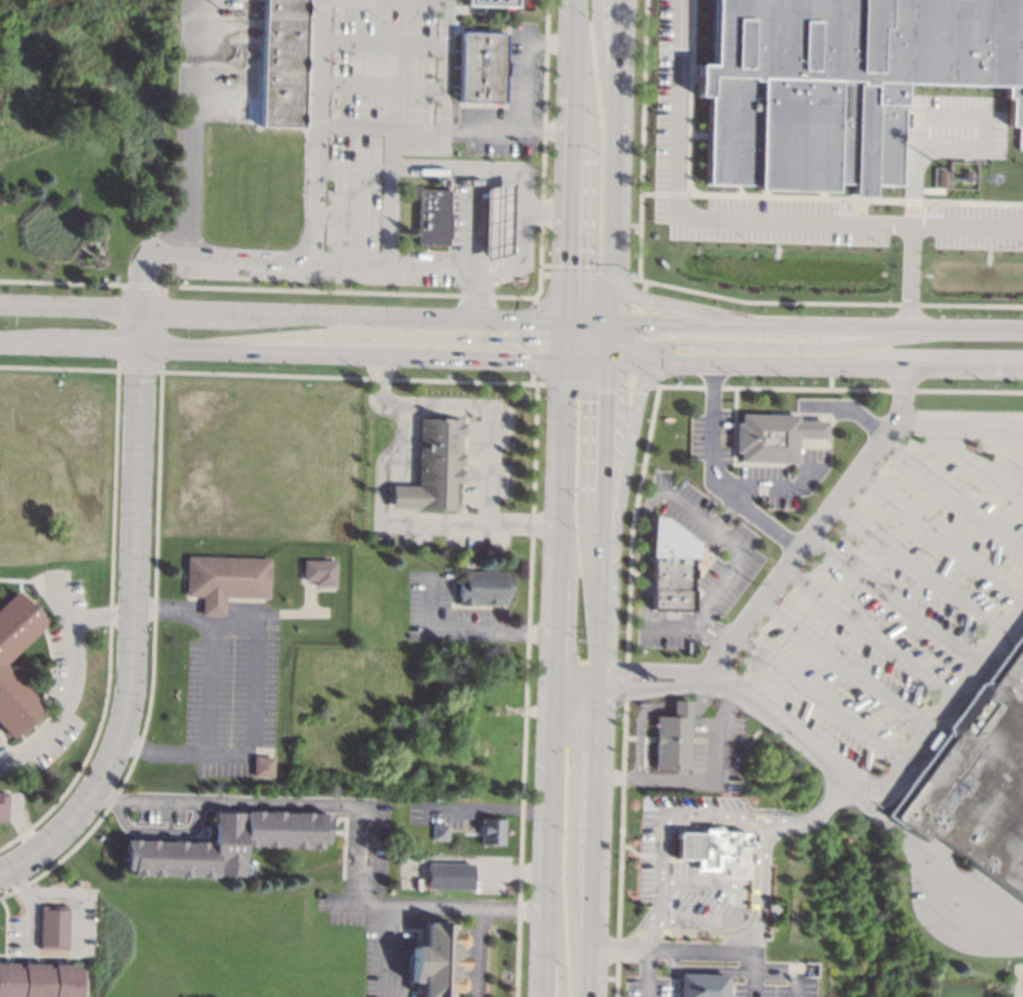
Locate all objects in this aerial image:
building: (491, 2)
road: (576, 42)
road: (382, 43)
road: (551, 43)
building: (282, 63)
road: (445, 66)
building: (481, 66)
building: (839, 82)
road: (381, 86)
road: (524, 88)
parking lot: (668, 96)
road: (572, 114)
road: (987, 116)
road: (190, 127)
parking lot: (955, 127)
road: (316, 129)
road: (444, 133)
road: (696, 134)
road: (618, 138)
road: (640, 138)
parking lot: (360, 150)
road: (353, 169)
road: (519, 172)
building: (942, 177)
road: (663, 192)
road: (388, 195)
road: (759, 195)
road: (544, 210)
road: (351, 214)
building: (432, 217)
road: (473, 218)
road: (740, 219)
building: (496, 221)
road: (568, 233)
road: (909, 237)
road: (312, 257)
traffic signals: (567, 266)
building: (116, 277)
road: (663, 283)
road: (611, 299)
road: (71, 305)
road: (684, 307)
road: (187, 308)
road: (398, 315)
road: (587, 321)
traffic signals: (646, 322)
road: (816, 325)
road: (564, 330)
road: (637, 332)
road: (378, 333)
road: (609, 333)
road: (589, 335)
traffic signals: (506, 338)
road: (96, 345)
traffic signals: (676, 345)
road: (759, 345)
road: (584, 348)
road: (1002, 348)
road: (563, 350)
road: (607, 352)
road: (377, 354)
traffic signals: (523, 360)
road: (585, 361)
road: (630, 361)
road: (838, 365)
traffic signals: (606, 391)
road: (412, 407)
road: (960, 426)
building: (770, 437)
road: (824, 454)
road: (974, 460)
road: (390, 463)
building: (433, 467)
road: (1007, 473)
road: (711, 479)
parking lot: (474, 489)
road: (953, 495)
road: (614, 516)
road: (726, 516)
road: (602, 518)
road: (487, 520)
road: (522, 528)
road: (819, 528)
road: (941, 536)
road: (735, 564)
building: (670, 567)
road: (918, 570)
building: (319, 573)
building: (225, 580)
building: (483, 587)
parking lot: (898, 591)
road: (893, 603)
road: (175, 609)
road: (134, 616)
parking lot: (451, 617)
road: (467, 628)
road: (714, 629)
road: (868, 635)
road: (709, 637)
road: (845, 667)
road: (638, 670)
road: (251, 673)
road: (576, 676)
road: (71, 678)
road: (553, 679)
building: (10, 686)
road: (639, 687)
parking lot: (233, 697)
road: (819, 700)
building: (671, 737)
building: (261, 765)
road: (702, 778)
building: (977, 779)
road: (874, 798)
road: (261, 805)
building: (3, 807)
road: (489, 812)
road: (814, 819)
building: (492, 831)
building: (439, 832)
road: (594, 837)
building: (225, 843)
building: (709, 846)
road: (943, 866)
building: (449, 875)
road: (763, 889)
road: (80, 898)
parking lot: (962, 901)
road: (28, 906)
building: (771, 906)
road: (432, 907)
road: (661, 916)
road: (951, 921)
building: (52, 926)
road: (650, 935)
road: (672, 950)
road: (386, 951)
road: (476, 953)
road: (555, 953)
building: (437, 961)
road: (782, 972)
road: (648, 973)
road: (753, 975)
parking lot: (651, 976)
parking lot: (769, 978)
building: (39, 980)
building: (701, 985)

